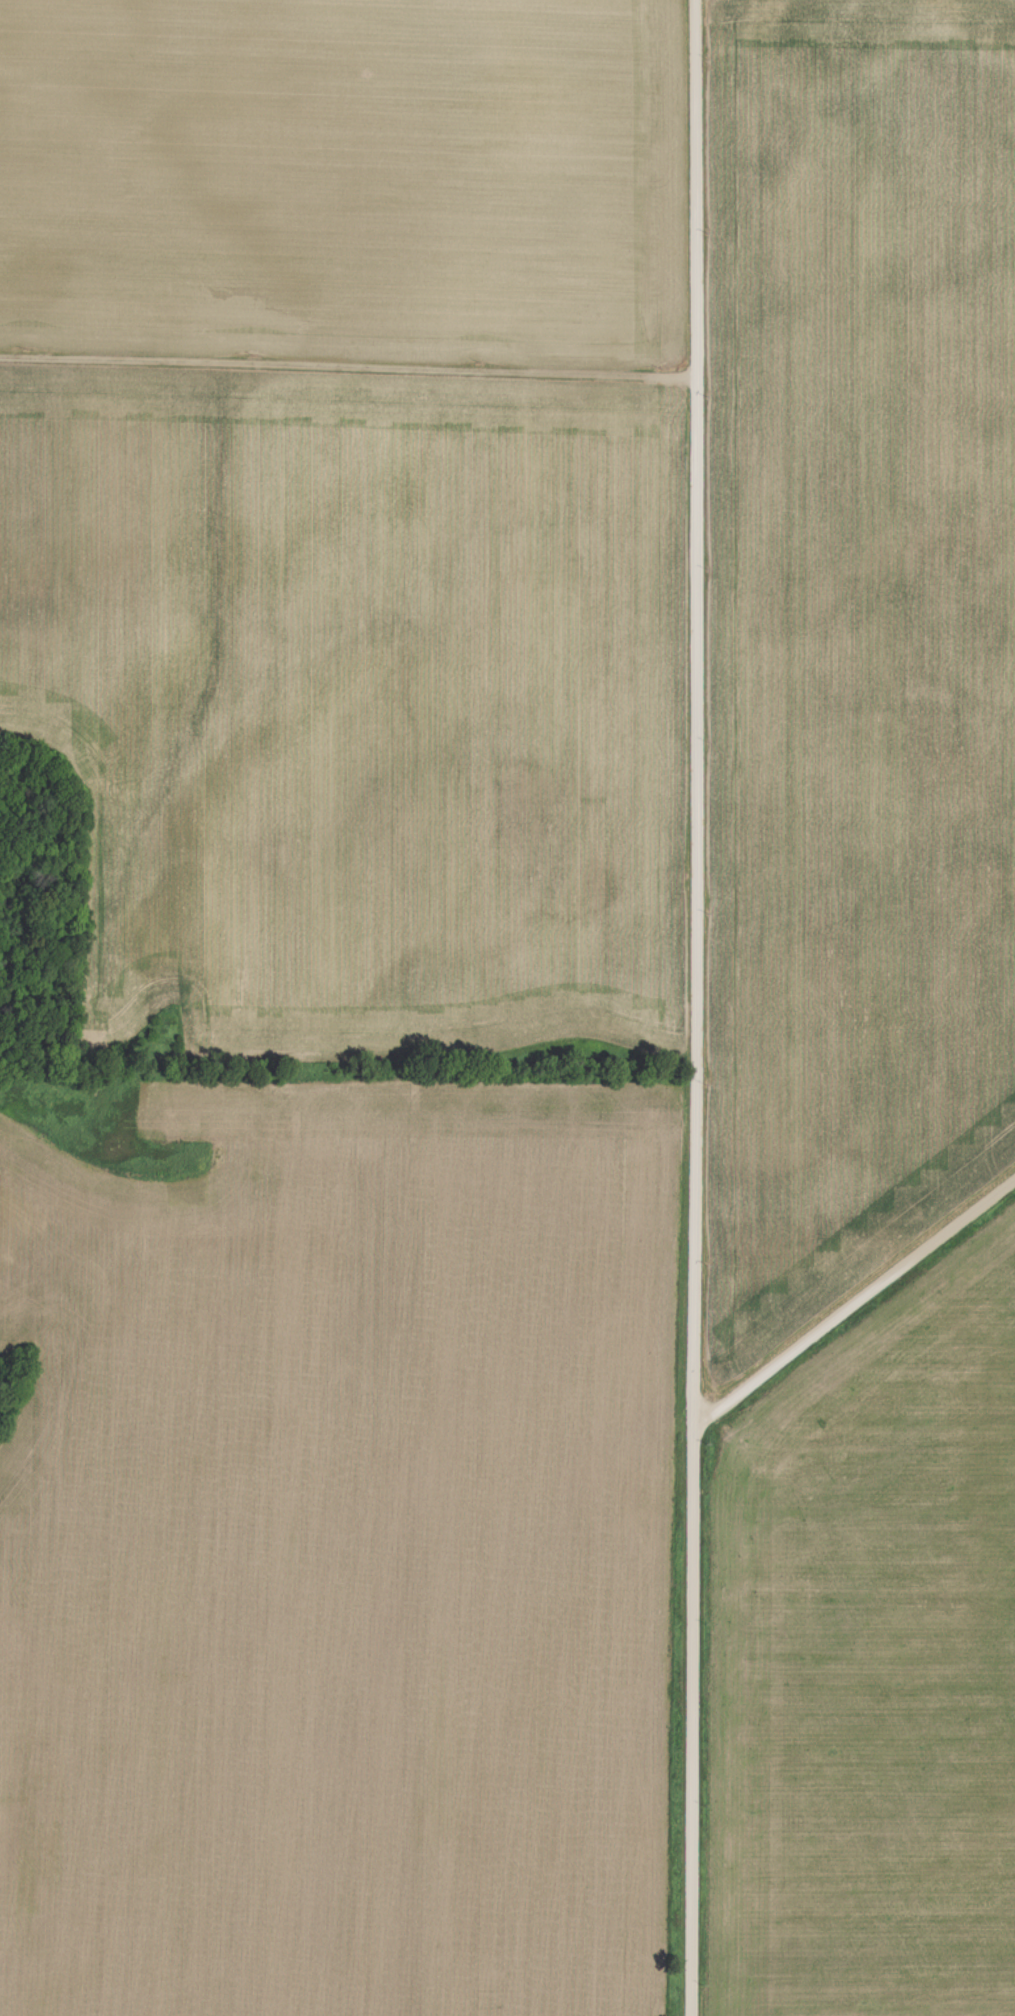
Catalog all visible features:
road: (349, 367)
road: (698, 1011)
road: (872, 1270)

